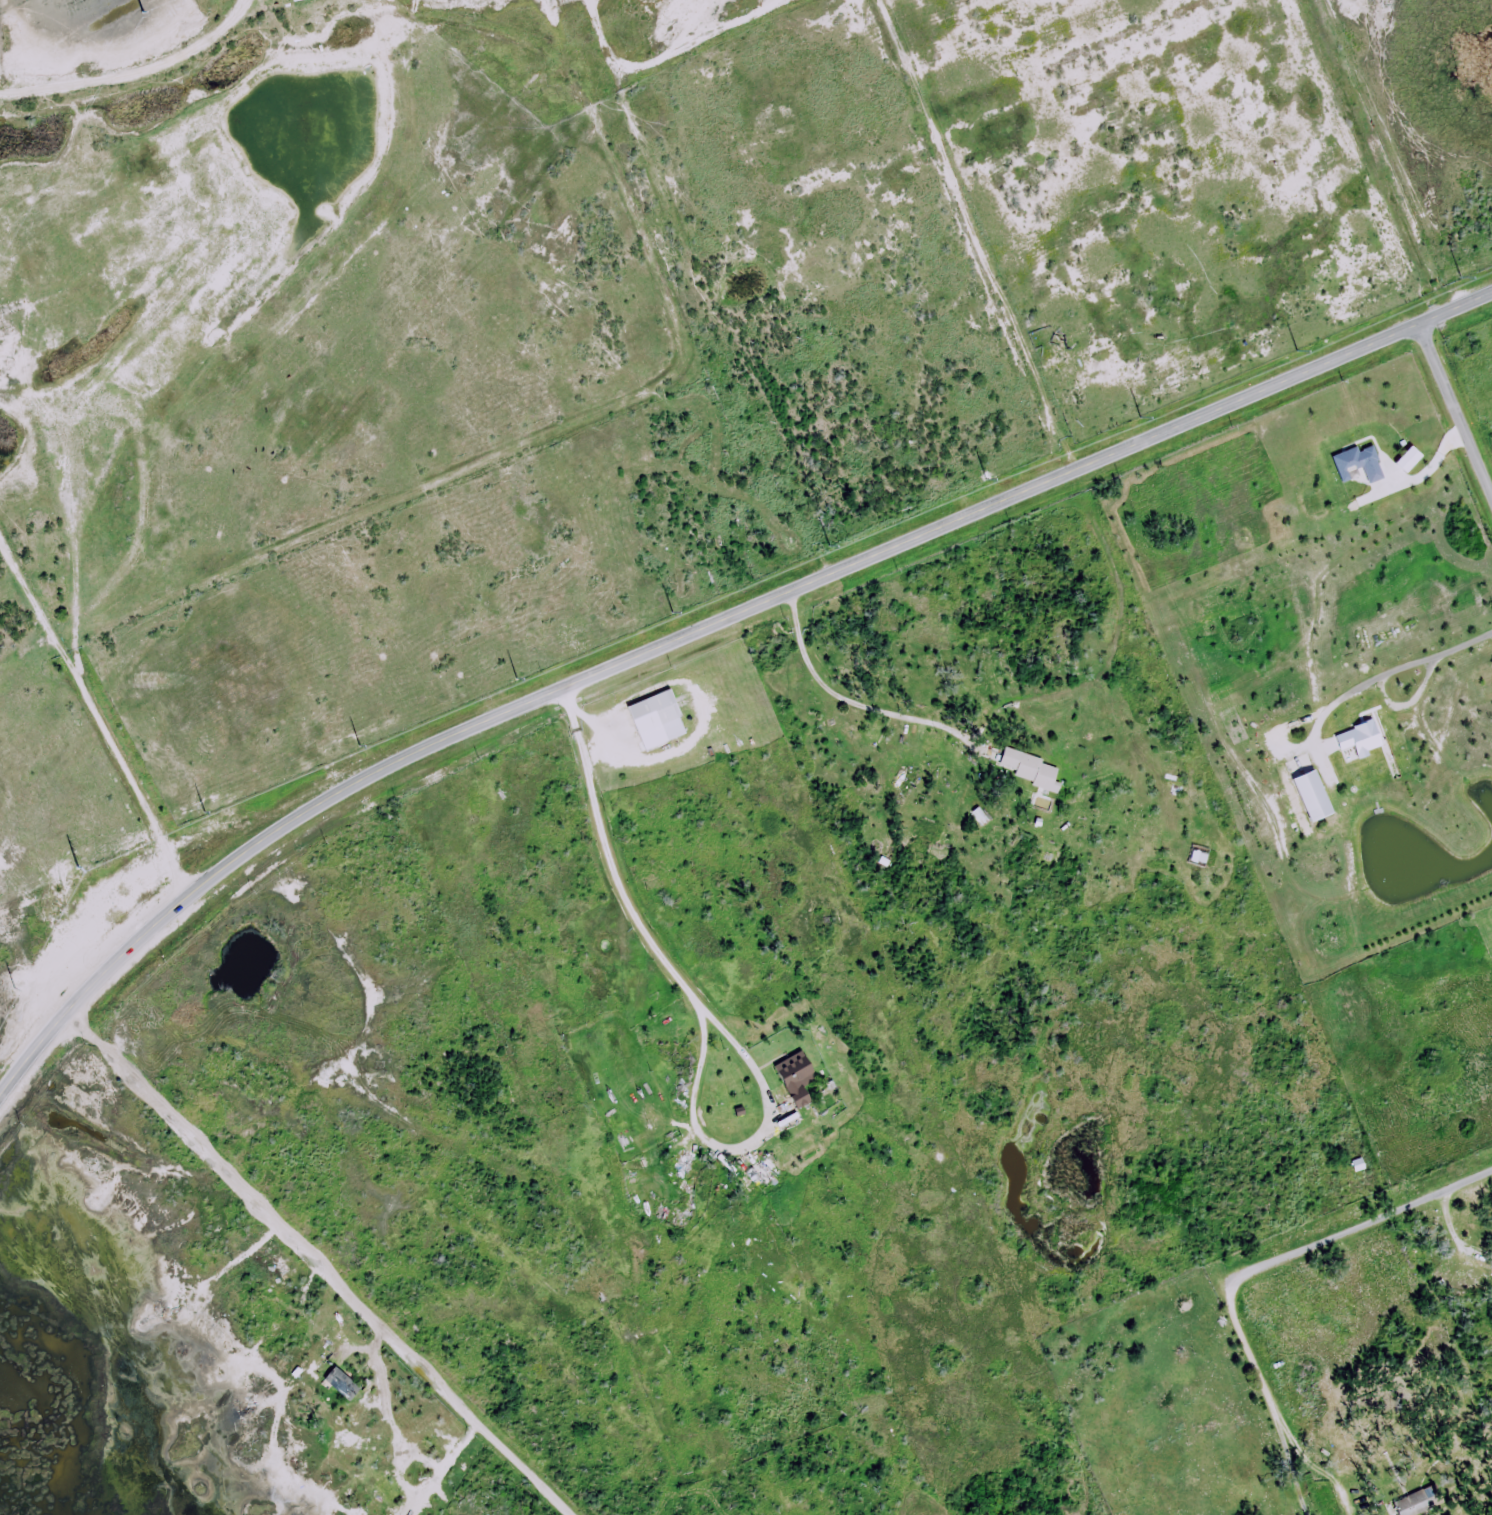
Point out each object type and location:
building: (298, 0)
road: (1455, 411)
road: (703, 627)
building: (656, 718)
building: (1032, 768)
building: (904, 784)
building: (1316, 797)
building: (798, 1078)
building: (688, 1162)
building: (762, 1175)
road: (1363, 1218)
road: (314, 1264)
building: (374, 1441)
building: (1407, 1506)

